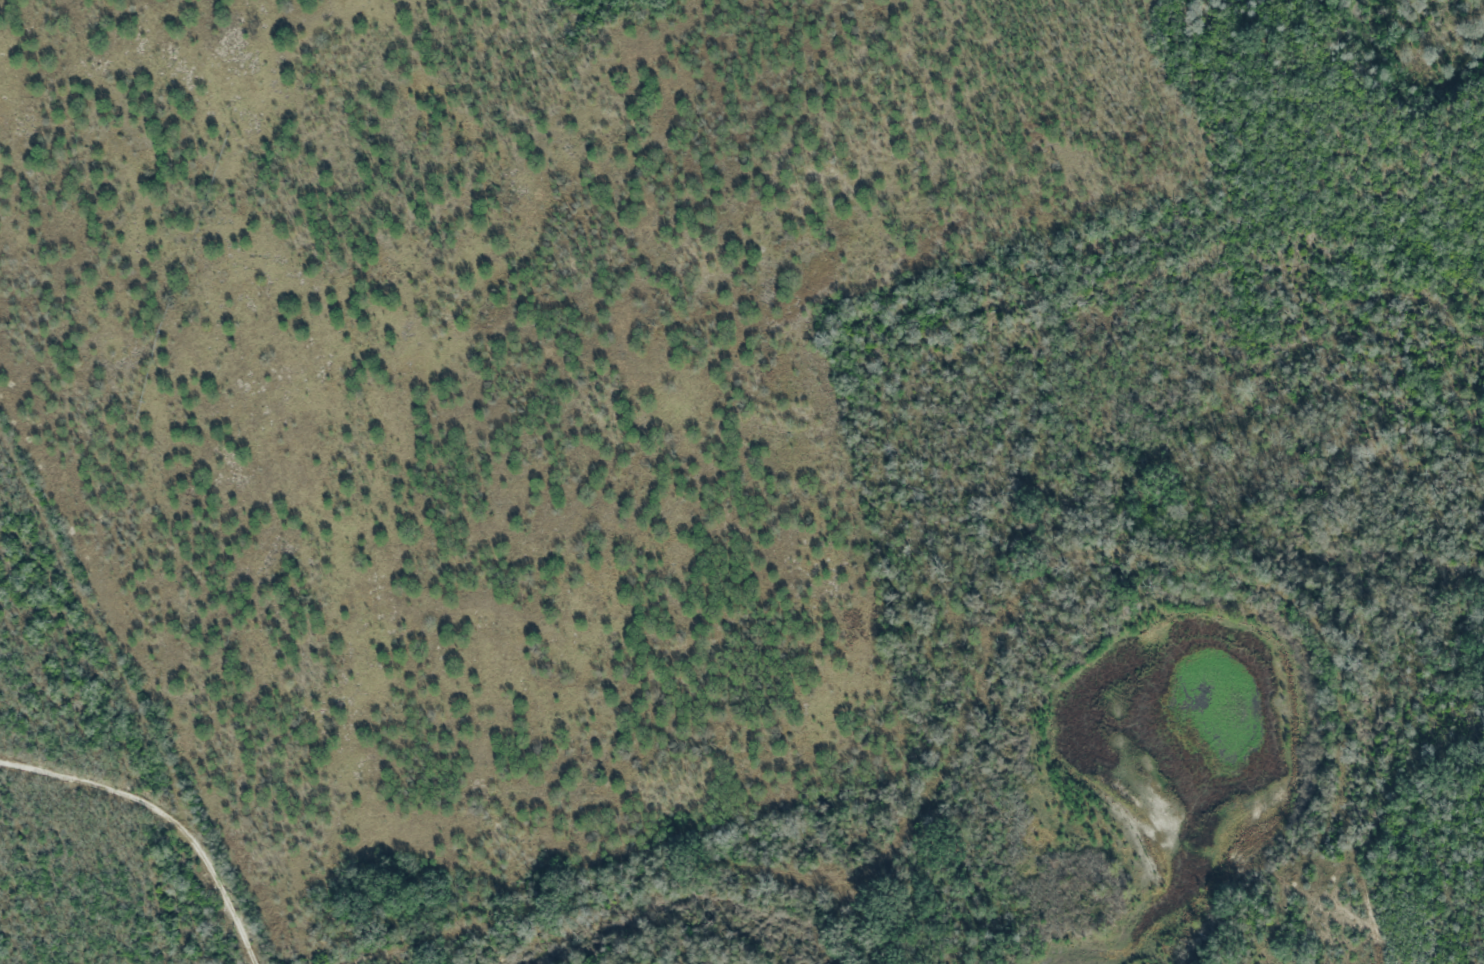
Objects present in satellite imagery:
road: (954, 718)
road: (151, 810)
road: (249, 950)

